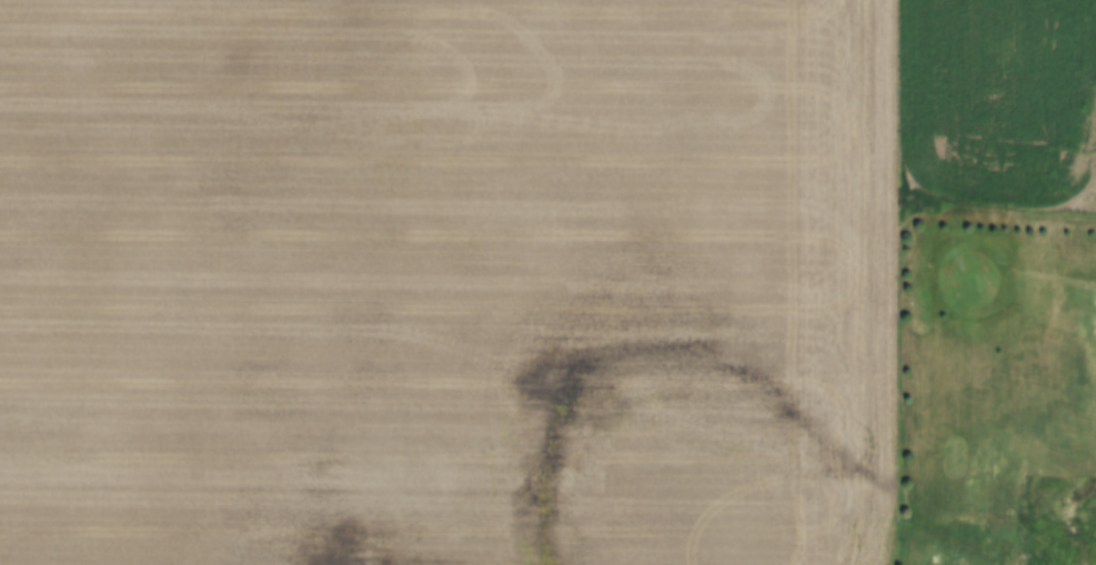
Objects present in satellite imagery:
park: (996, 390)

